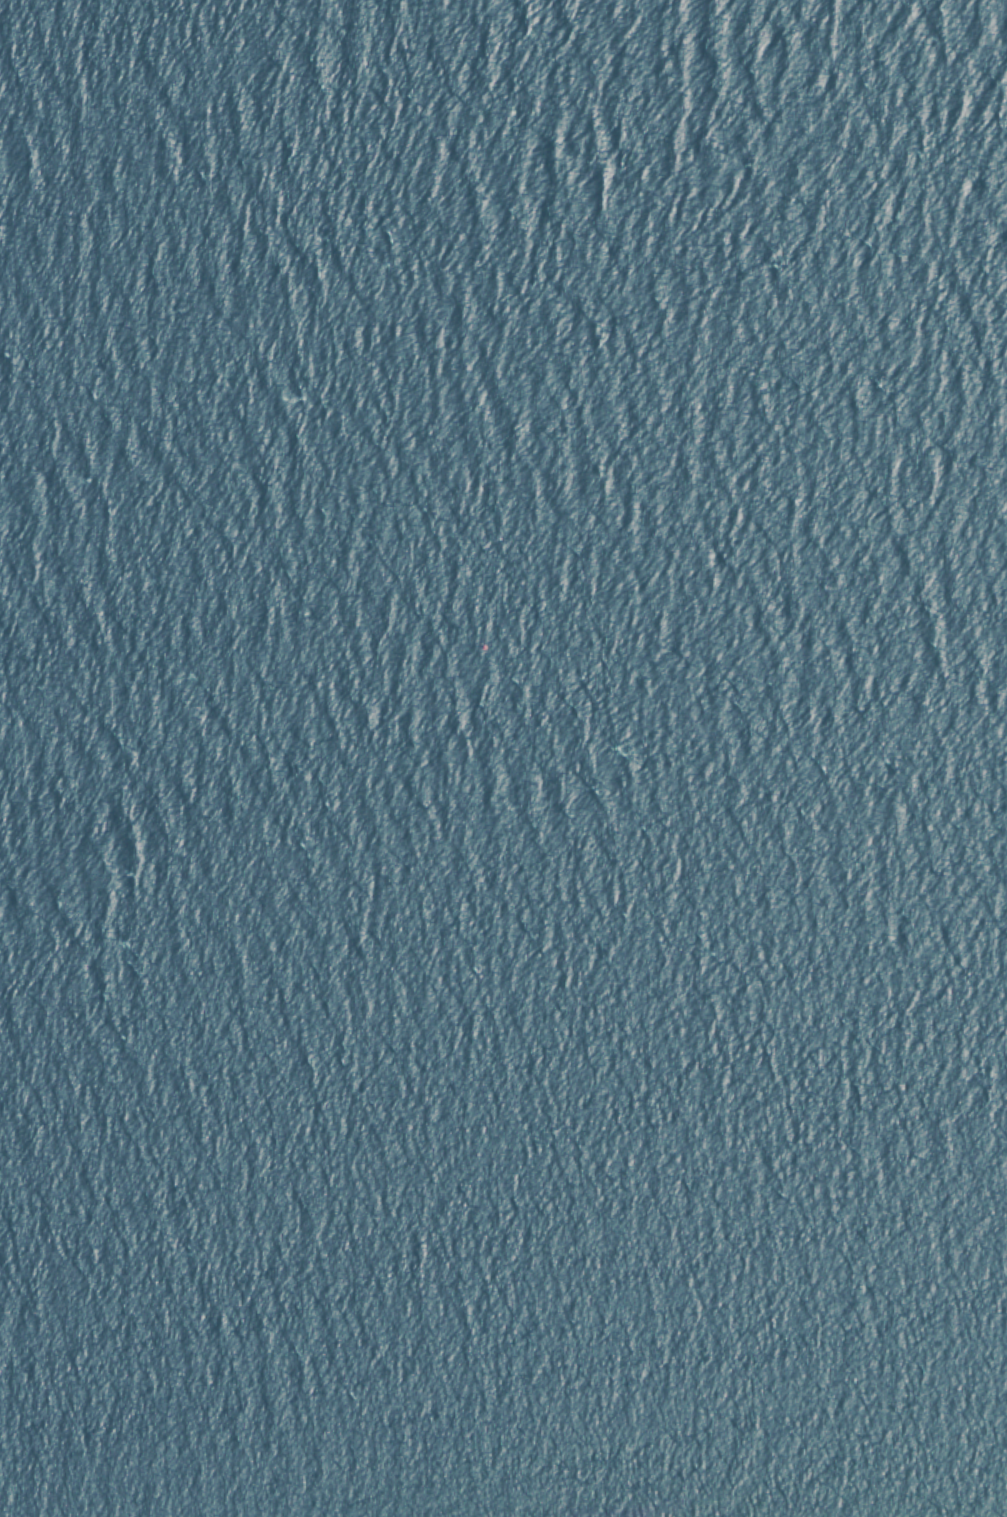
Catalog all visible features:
river: (513, 1113)

